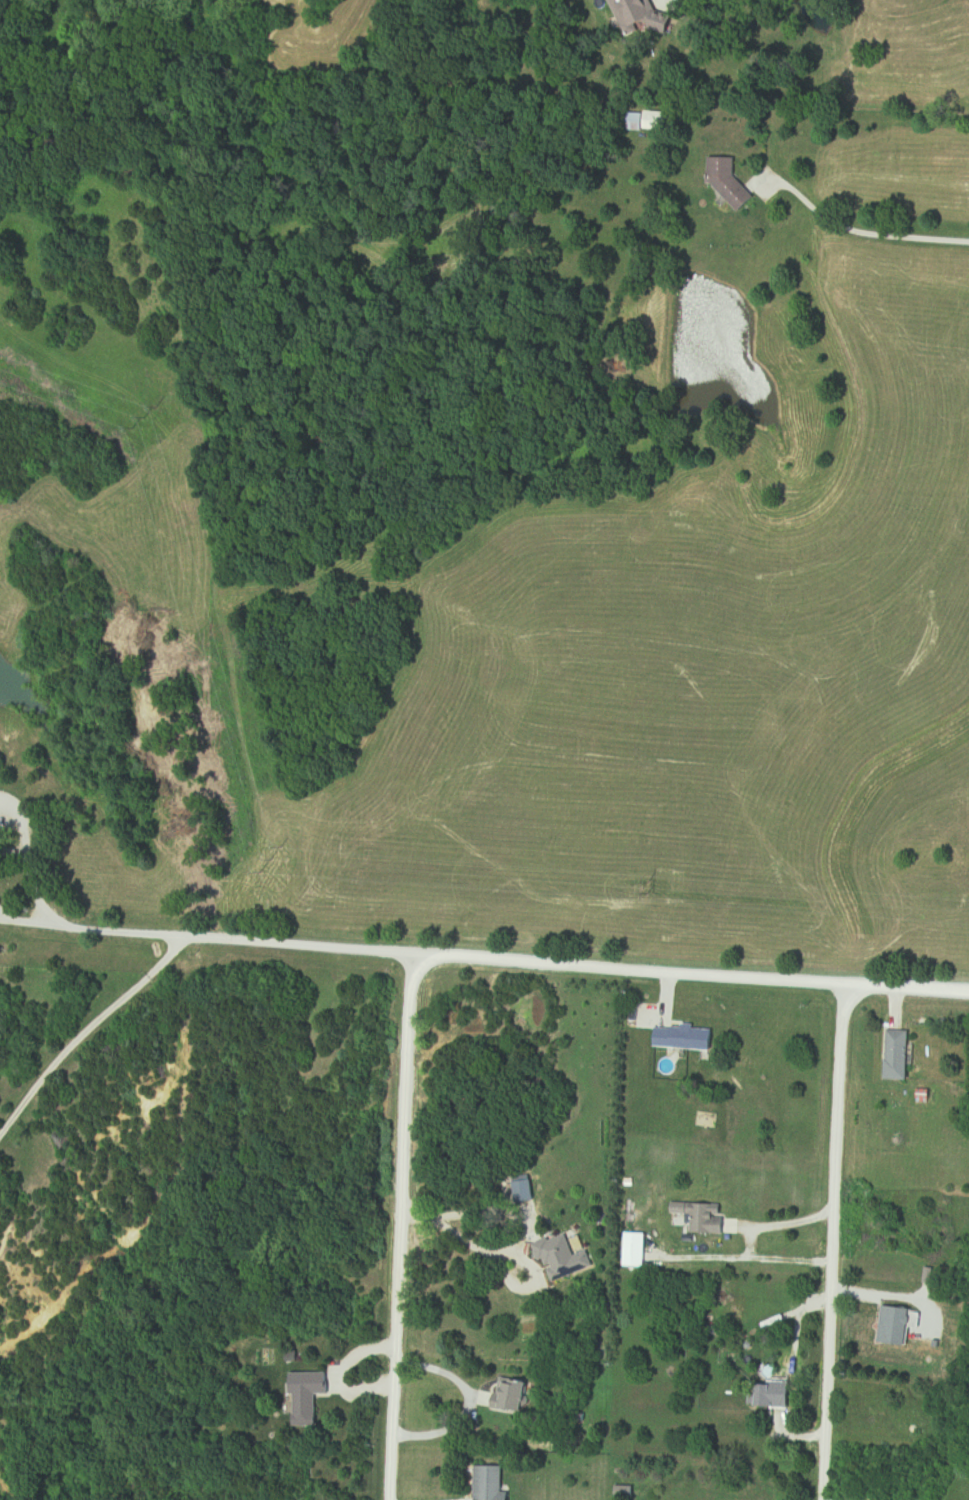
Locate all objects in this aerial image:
road: (856, 232)
road: (27, 863)
road: (23, 924)
road: (507, 959)
road: (84, 1026)
building: (687, 1036)
building: (900, 1054)
building: (680, 1215)
road: (421, 1218)
road: (528, 1223)
road: (402, 1226)
road: (829, 1241)
road: (747, 1242)
building: (560, 1258)
building: (899, 1325)
road: (453, 1380)
building: (514, 1394)
building: (310, 1396)
building: (775, 1396)
building: (492, 1483)

